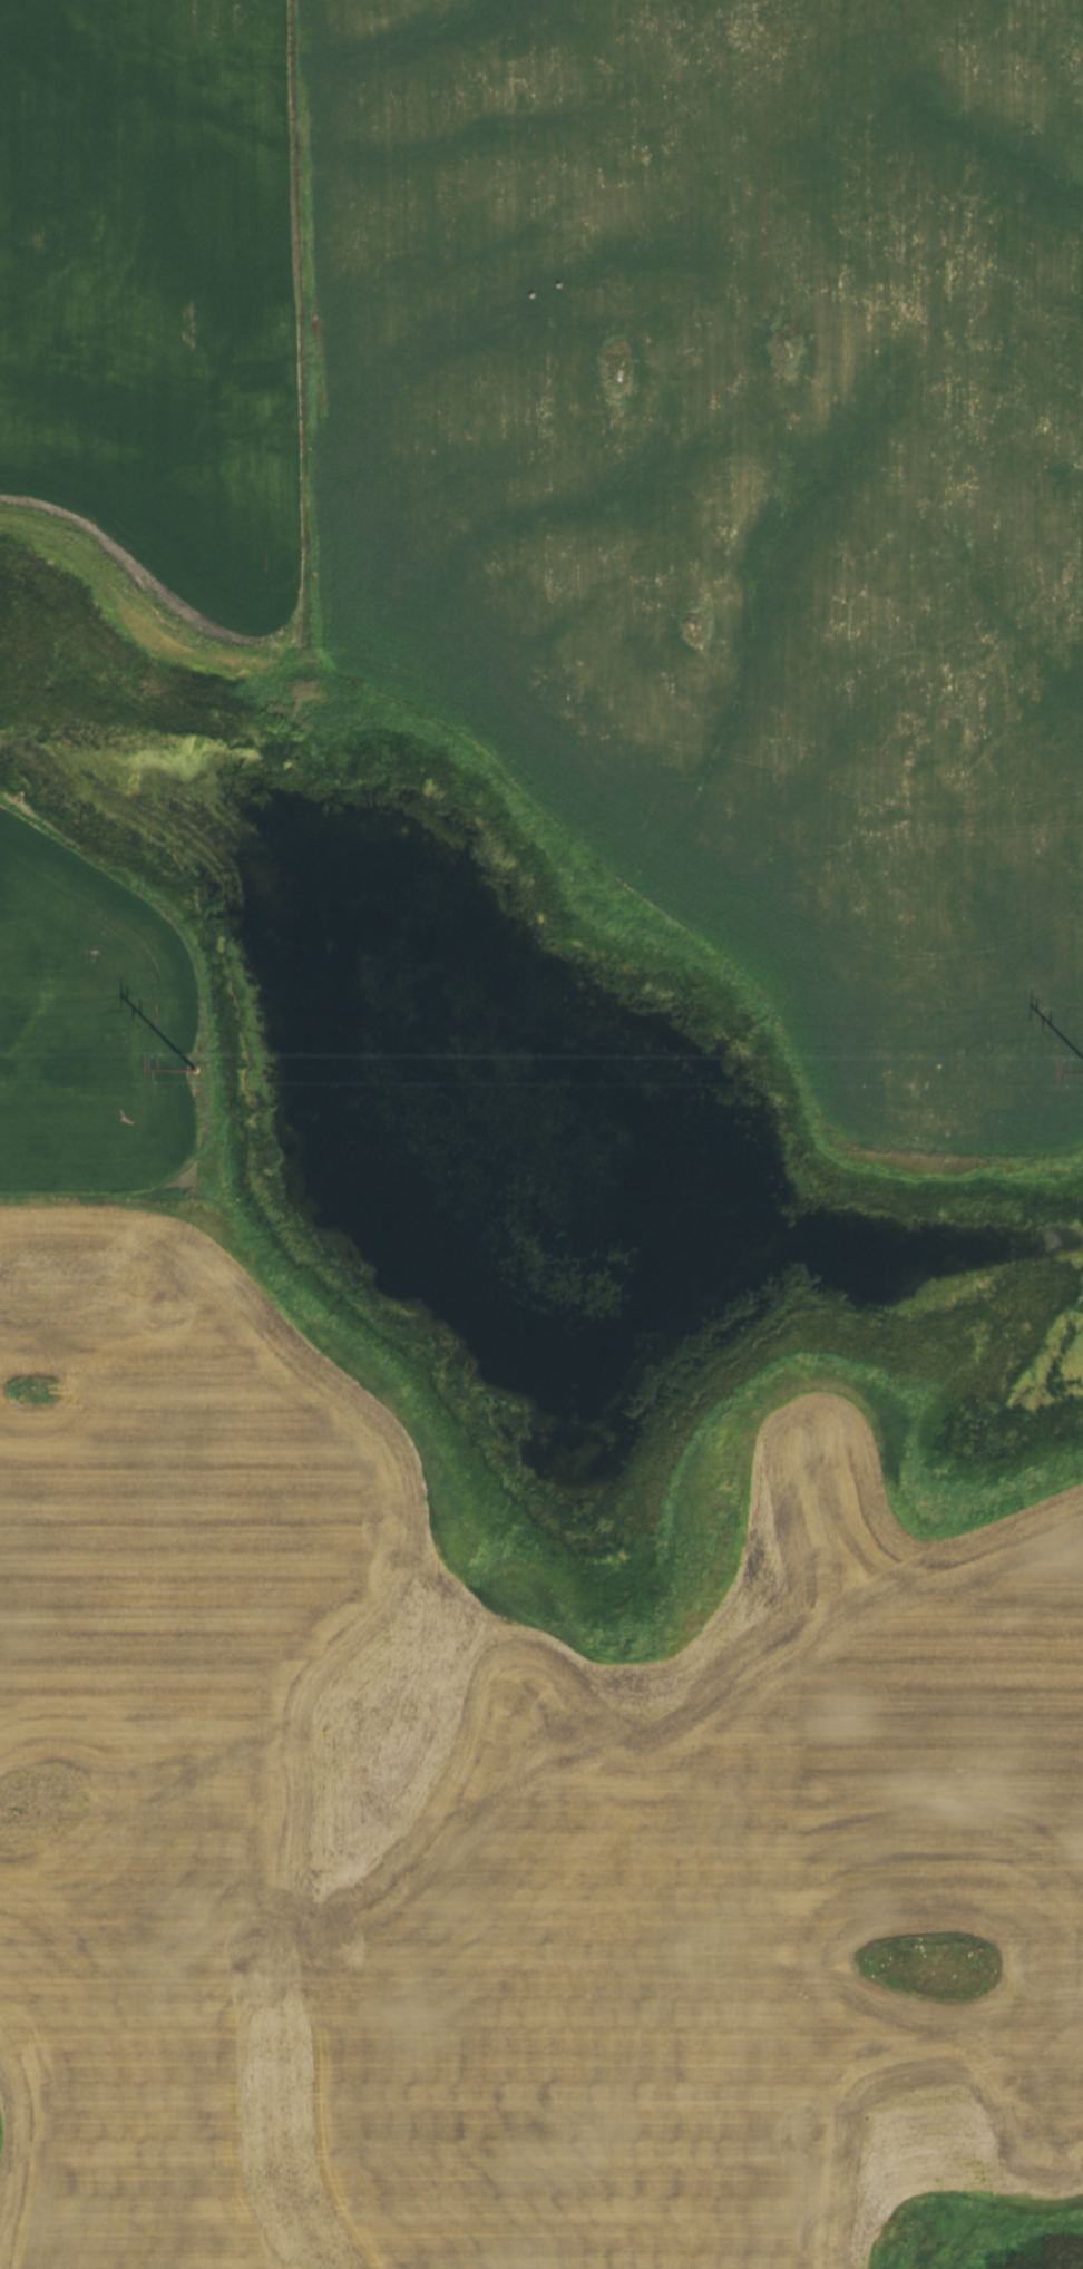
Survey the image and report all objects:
power tower: (189, 1068)

